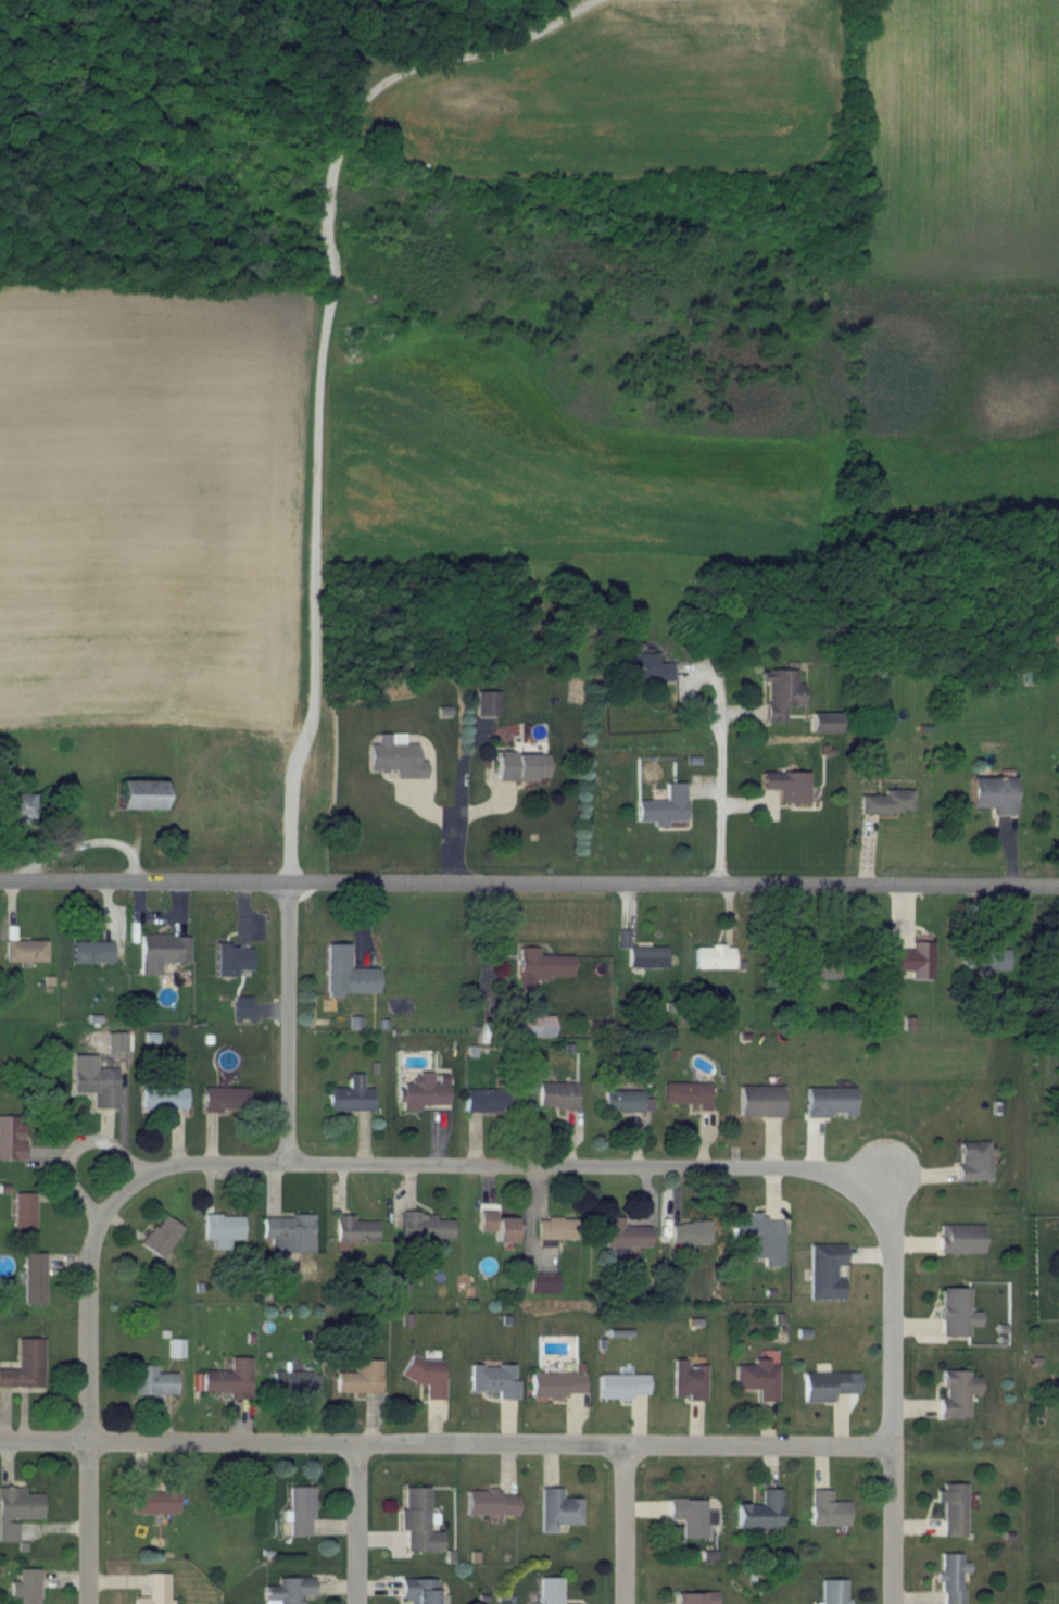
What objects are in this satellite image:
building: (644, 667)
building: (780, 692)
building: (487, 703)
building: (825, 722)
building: (394, 756)
building: (521, 766)
road: (714, 784)
building: (789, 785)
building: (137, 794)
building: (993, 794)
building: (887, 801)
building: (15, 805)
building: (663, 806)
road: (449, 812)
road: (529, 888)
building: (622, 938)
building: (25, 951)
building: (91, 951)
building: (162, 951)
building: (646, 956)
building: (714, 956)
building: (988, 958)
building: (232, 960)
building: (915, 960)
building: (541, 966)
building: (816, 967)
building: (344, 973)
building: (242, 1005)
road: (280, 1025)
building: (534, 1026)
building: (117, 1042)
building: (94, 1080)
building: (423, 1091)
building: (686, 1093)
building: (557, 1094)
building: (351, 1095)
building: (163, 1098)
building: (225, 1099)
building: (622, 1100)
building: (484, 1101)
building: (759, 1101)
building: (829, 1101)
building: (11, 1137)
road: (77, 1145)
building: (973, 1161)
road: (421, 1164)
road: (875, 1179)
building: (24, 1211)
building: (425, 1226)
building: (496, 1226)
building: (553, 1228)
building: (223, 1229)
building: (354, 1229)
building: (288, 1233)
building: (625, 1235)
building: (689, 1235)
building: (161, 1236)
building: (759, 1237)
building: (960, 1238)
building: (825, 1270)
building: (34, 1278)
building: (543, 1282)
building: (1058, 1307)
building: (956, 1313)
building: (176, 1348)
building: (25, 1365)
road: (888, 1366)
building: (426, 1375)
building: (360, 1378)
building: (758, 1378)
building: (228, 1379)
building: (494, 1380)
building: (689, 1380)
building: (152, 1381)
building: (295, 1381)
building: (555, 1384)
building: (621, 1386)
building: (829, 1386)
building: (957, 1393)
road: (88, 1437)
road: (444, 1443)
building: (155, 1501)
building: (491, 1503)
building: (954, 1508)
building: (828, 1509)
building: (27, 1511)
building: (300, 1511)
building: (557, 1511)
building: (760, 1512)
building: (692, 1516)
building: (419, 1521)
road: (353, 1524)
road: (622, 1525)
building: (951, 1577)
building: (26, 1587)
building: (40, 1587)
building: (154, 1590)
building: (288, 1590)
building: (418, 1591)
building: (550, 1591)
building: (832, 1592)
building: (696, 1597)

